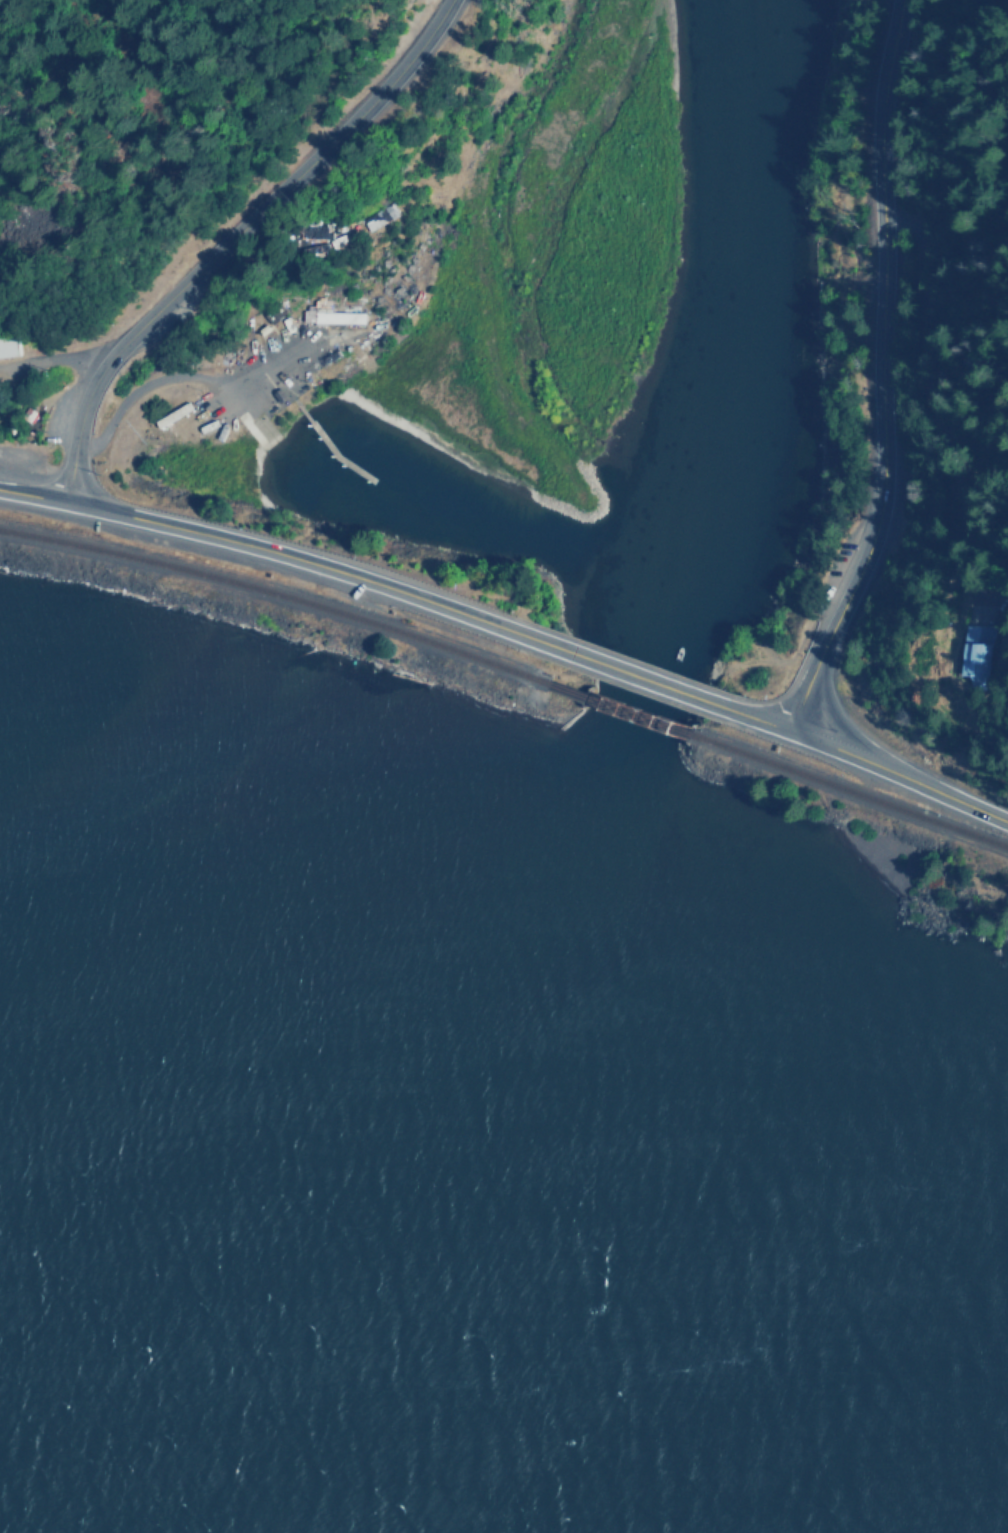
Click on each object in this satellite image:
road: (232, 234)
building: (8, 345)
road: (55, 359)
road: (883, 373)
road: (195, 375)
road: (286, 381)
road: (948, 420)
pier: (331, 447)
road: (264, 548)
parking lot: (234, 558)
railway: (274, 598)
road: (482, 642)
road: (620, 671)
road: (590, 697)
railway: (619, 710)
road: (571, 720)
river: (606, 755)
road: (866, 761)
railway: (852, 788)

